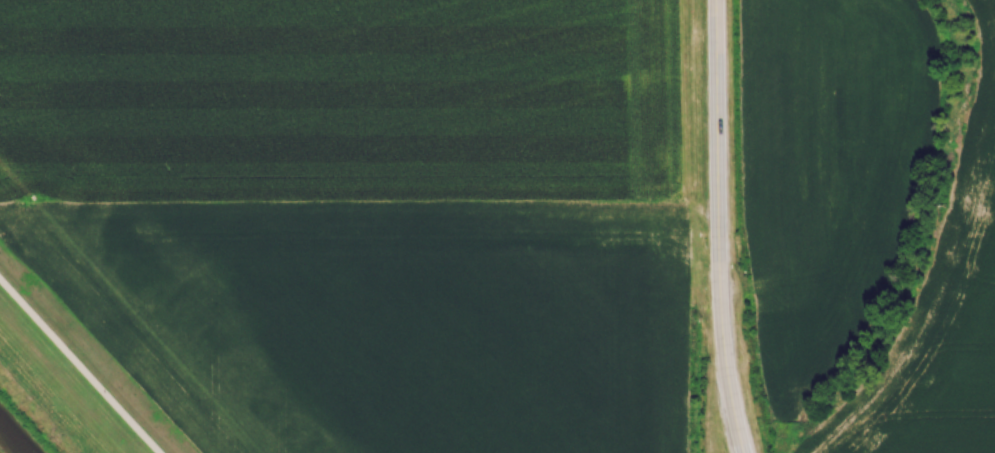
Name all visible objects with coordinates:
crop: (337, 97)
road: (717, 227)
road: (81, 364)
river: (15, 435)

